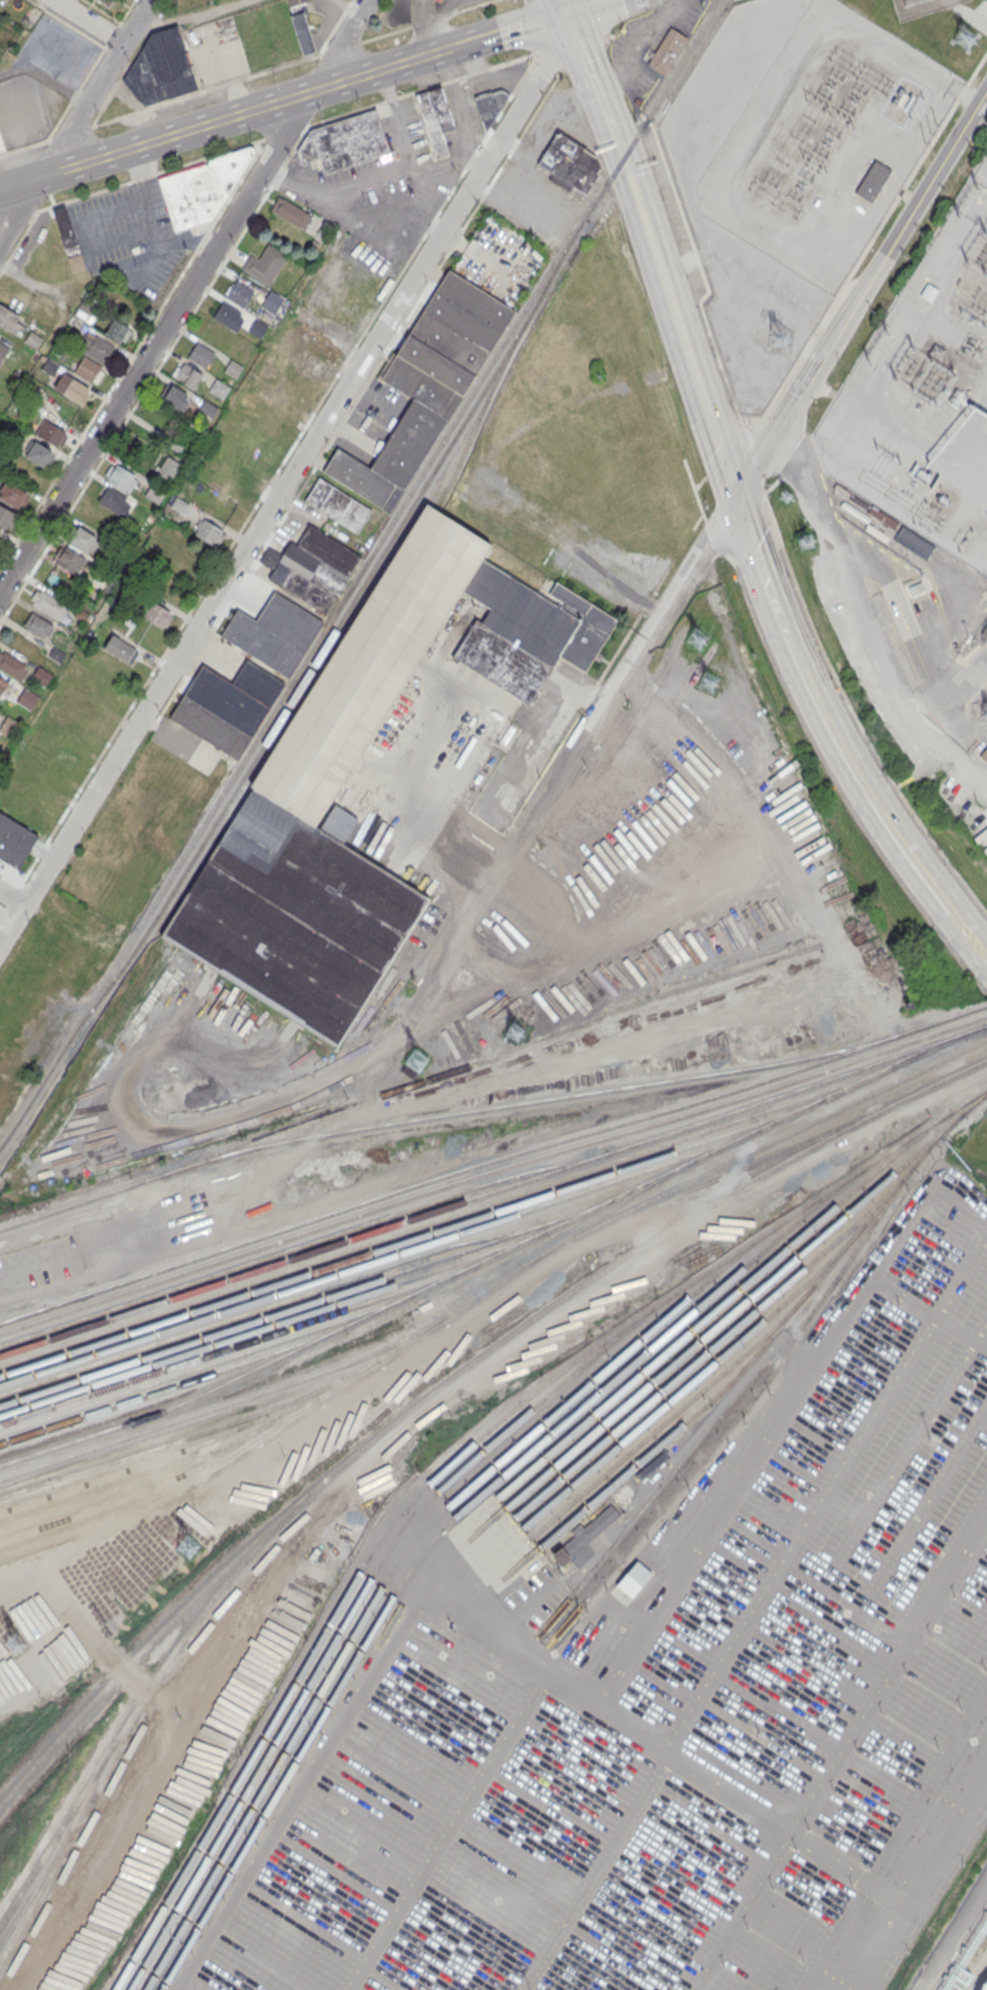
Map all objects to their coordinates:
building: (437, 0)
building: (441, 0)
building: (296, 2)
road: (525, 2)
road: (348, 6)
power substation: (920, 6)
road: (593, 7)
road: (567, 8)
road: (415, 10)
road: (104, 11)
road: (126, 12)
road: (970, 15)
road: (983, 15)
traffic signals: (571, 16)
road: (599, 16)
road: (183, 18)
road: (431, 18)
road: (427, 20)
road: (86, 22)
road: (68, 24)
road: (127, 25)
road: (334, 27)
road: (530, 27)
road: (521, 28)
building: (303, 32)
road: (112, 34)
power tower: (965, 37)
road: (606, 38)
road: (340, 41)
road: (55, 46)
road: (455, 46)
road: (341, 47)
parking lot: (60, 49)
road: (570, 49)
building: (665, 49)
road: (111, 51)
road: (533, 51)
road: (536, 55)
road: (21, 59)
road: (129, 64)
road: (92, 66)
building: (160, 68)
road: (546, 68)
road: (591, 70)
road: (504, 78)
road: (620, 80)
road: (51, 81)
road: (74, 94)
road: (963, 94)
road: (173, 101)
building: (489, 106)
parking lot: (22, 107)
road: (22, 116)
road: (218, 116)
building: (436, 118)
road: (646, 119)
road: (58, 120)
road: (75, 122)
road: (468, 124)
building: (344, 140)
power substation: (824, 140)
road: (405, 142)
building: (1, 144)
road: (232, 148)
road: (19, 149)
road: (620, 150)
road: (6, 153)
road: (477, 156)
road: (24, 162)
road: (135, 162)
building: (570, 162)
road: (143, 177)
road: (359, 180)
building: (871, 180)
building: (202, 187)
power tower: (976, 191)
road: (84, 196)
road: (384, 208)
road: (110, 210)
building: (290, 212)
road: (31, 215)
road: (33, 216)
power tower: (960, 220)
road: (350, 223)
building: (65, 227)
parking lot: (125, 228)
building: (325, 228)
road: (155, 235)
road: (118, 238)
road: (18, 241)
road: (82, 246)
road: (868, 246)
road: (26, 247)
road: (152, 252)
building: (76, 262)
building: (264, 263)
road: (3, 265)
road: (217, 273)
road: (703, 275)
road: (25, 277)
building: (929, 292)
building: (239, 293)
road: (862, 296)
building: (272, 301)
building: (228, 315)
building: (9, 319)
building: (73, 325)
building: (257, 328)
building: (116, 330)
road: (682, 336)
road: (156, 337)
power tower: (779, 338)
building: (33, 339)
power tower: (885, 339)
building: (447, 343)
building: (95, 345)
building: (3, 351)
road: (131, 353)
building: (200, 354)
building: (50, 366)
building: (233, 367)
power tower: (867, 368)
building: (87, 370)
building: (188, 375)
power tower: (893, 379)
building: (71, 387)
building: (219, 387)
road: (823, 388)
power substation: (925, 391)
building: (176, 397)
road: (356, 401)
building: (207, 408)
traffic signals: (791, 413)
railway: (476, 421)
building: (49, 431)
building: (408, 443)
road: (724, 450)
building: (36, 451)
road: (750, 456)
road: (278, 469)
building: (165, 470)
road: (814, 476)
building: (120, 477)
building: (359, 477)
road: (288, 480)
road: (700, 481)
road: (694, 490)
building: (155, 492)
building: (12, 493)
power tower: (786, 496)
traffic signals: (735, 499)
building: (114, 501)
building: (179, 504)
building: (338, 505)
building: (151, 516)
building: (5, 518)
road: (698, 521)
building: (208, 531)
building: (84, 539)
road: (711, 539)
road: (749, 541)
building: (914, 542)
power tower: (806, 543)
building: (328, 550)
road: (858, 554)
building: (68, 559)
railway: (358, 573)
building: (304, 575)
road: (663, 575)
road: (646, 603)
building: (48, 604)
road: (774, 609)
building: (156, 613)
road: (907, 613)
building: (81, 614)
road: (898, 619)
building: (288, 621)
building: (39, 625)
power tower: (698, 639)
railway: (327, 640)
building: (262, 643)
road: (619, 647)
building: (121, 649)
building: (57, 654)
road: (794, 657)
building: (13, 665)
building: (42, 675)
road: (889, 679)
power tower: (709, 681)
building: (258, 683)
building: (3, 684)
road: (958, 684)
road: (593, 689)
road: (579, 691)
building: (28, 698)
building: (227, 700)
road: (852, 712)
road: (949, 718)
railway: (299, 725)
building: (10, 726)
building: (211, 727)
building: (984, 755)
road: (569, 770)
building: (284, 799)
road: (887, 823)
building: (14, 841)
road: (11, 880)
road: (27, 888)
road: (12, 895)
road: (13, 896)
road: (3, 908)
road: (3, 910)
road: (12, 913)
railway: (805, 967)
railway: (975, 1009)
railway: (978, 1017)
railway: (981, 1027)
power tower: (514, 1034)
railway: (984, 1038)
railway: (508, 1051)
power tower: (416, 1062)
railway: (86, 1066)
railway: (931, 1085)
road: (288, 1094)
railway: (446, 1115)
railway: (480, 1163)
railway: (745, 1166)
railway: (483, 1171)
road: (964, 1189)
railway: (488, 1192)
railway: (621, 1201)
railway: (446, 1217)
railway: (412, 1238)
railway: (305, 1243)
railway: (378, 1257)
railway: (487, 1257)
railway: (475, 1293)
railway: (306, 1303)
railway: (270, 1304)
road: (928, 1312)
railway: (23, 1313)
railway: (707, 1317)
railway: (723, 1321)
railway: (273, 1323)
road: (982, 1333)
railway: (239, 1344)
railway: (705, 1352)
railway: (787, 1353)
railway: (206, 1365)
railway: (731, 1381)
railway: (171, 1387)
railway: (684, 1387)
railway: (223, 1403)
railway: (403, 1414)
railway: (658, 1427)
railway: (191, 1435)
road: (770, 1439)
railway: (701, 1443)
railway: (461, 1454)
railway: (163, 1456)
railway: (162, 1471)
road: (827, 1492)
railway: (130, 1495)
railway: (100, 1520)
railway: (432, 1537)
building: (584, 1539)
power tower: (187, 1543)
railway: (390, 1573)
building: (634, 1578)
road: (516, 1617)
railway: (345, 1621)
power tower: (17, 1643)
railway: (141, 1699)
parking lot: (680, 1705)
road: (841, 1754)
road: (707, 1779)
road: (476, 1792)
road: (295, 1801)
railway: (59, 1851)
road: (910, 1869)
road: (596, 1872)
railway: (35, 1887)
road: (923, 1889)
road: (954, 1938)
building: (985, 1987)
storage tank: (985, 1987)

